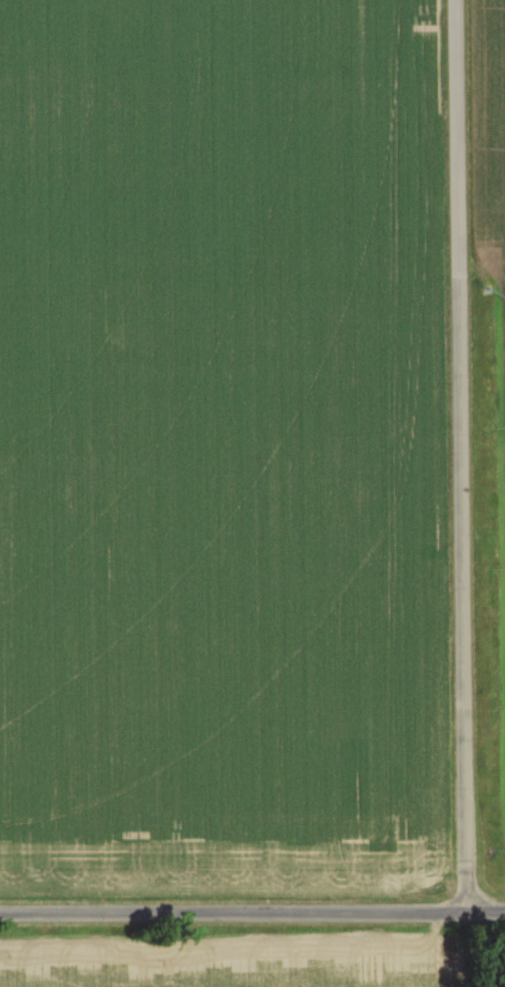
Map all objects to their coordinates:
road: (465, 459)
road: (252, 921)

